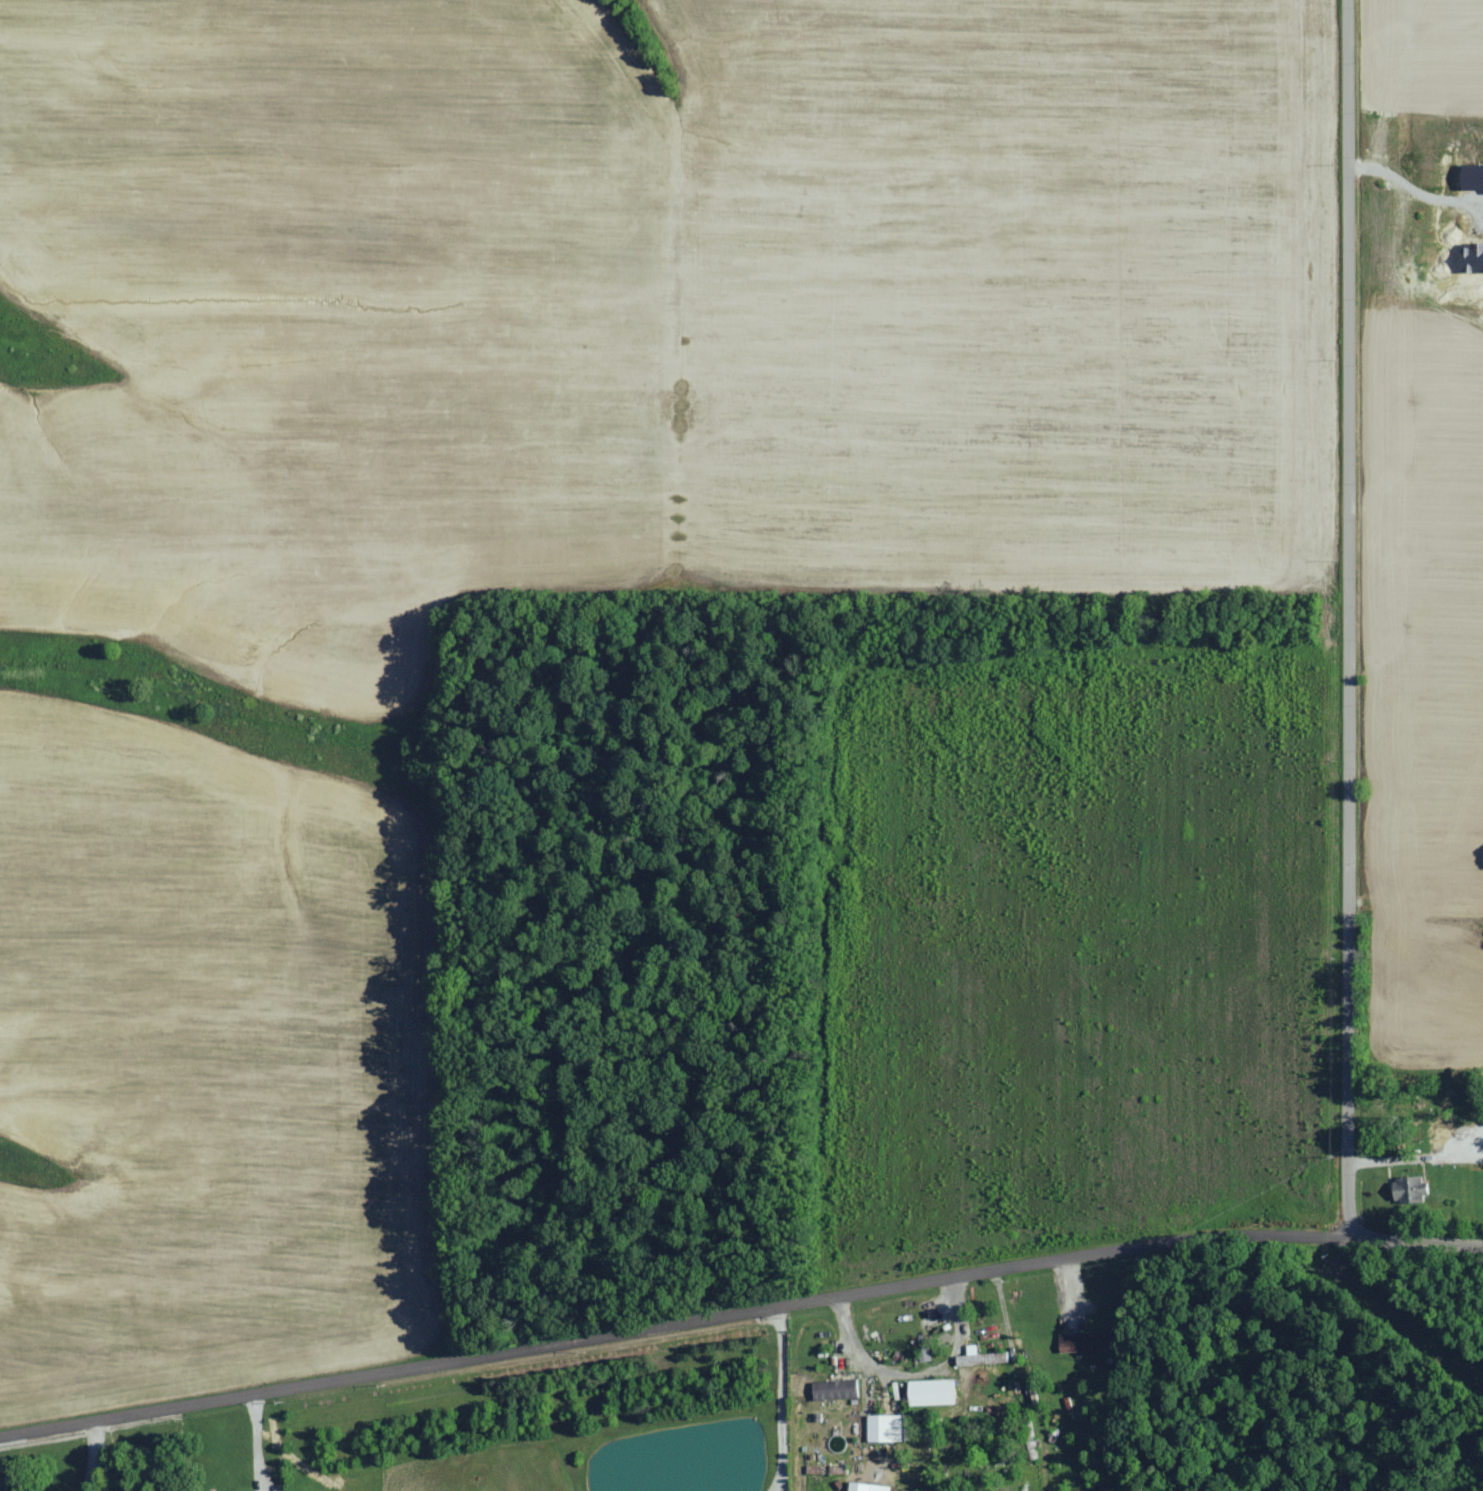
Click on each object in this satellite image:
building: (1473, 179)
building: (1473, 263)
road: (1351, 619)
building: (1411, 1190)
road: (1418, 1241)
road: (675, 1325)
building: (1086, 1342)
building: (981, 1357)
road: (922, 1377)
building: (836, 1390)
building: (933, 1393)
road: (788, 1399)
building: (886, 1428)
road: (260, 1443)
building: (869, 1487)

